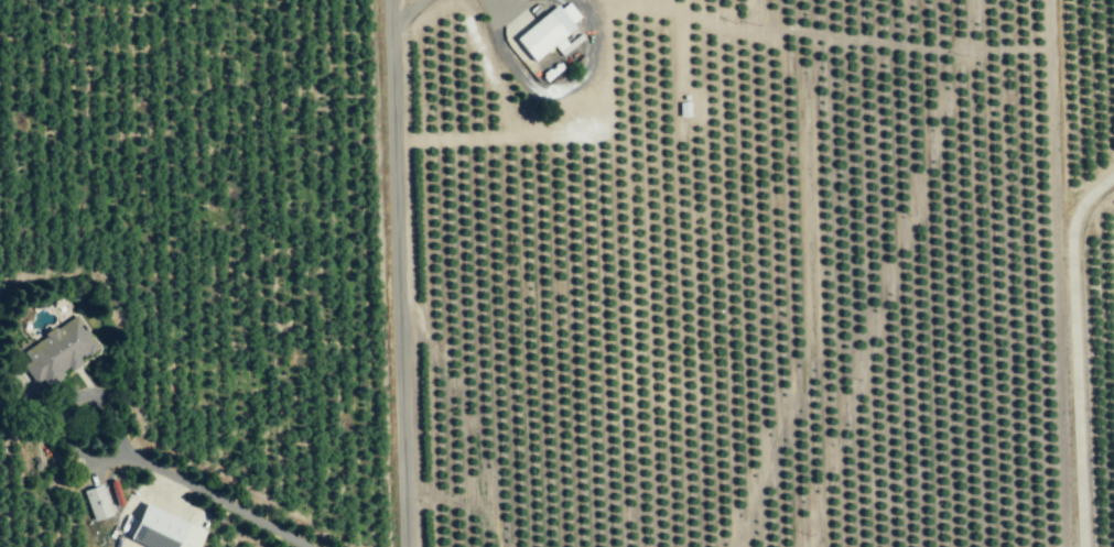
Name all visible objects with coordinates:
road: (404, 13)
building: (545, 30)
building: (658, 185)
building: (660, 247)
road: (392, 273)
crop: (193, 275)
road: (1070, 350)
building: (62, 352)
building: (597, 352)
crop: (1090, 373)
road: (61, 406)
building: (669, 483)
road: (218, 500)
building: (99, 504)
building: (163, 529)

